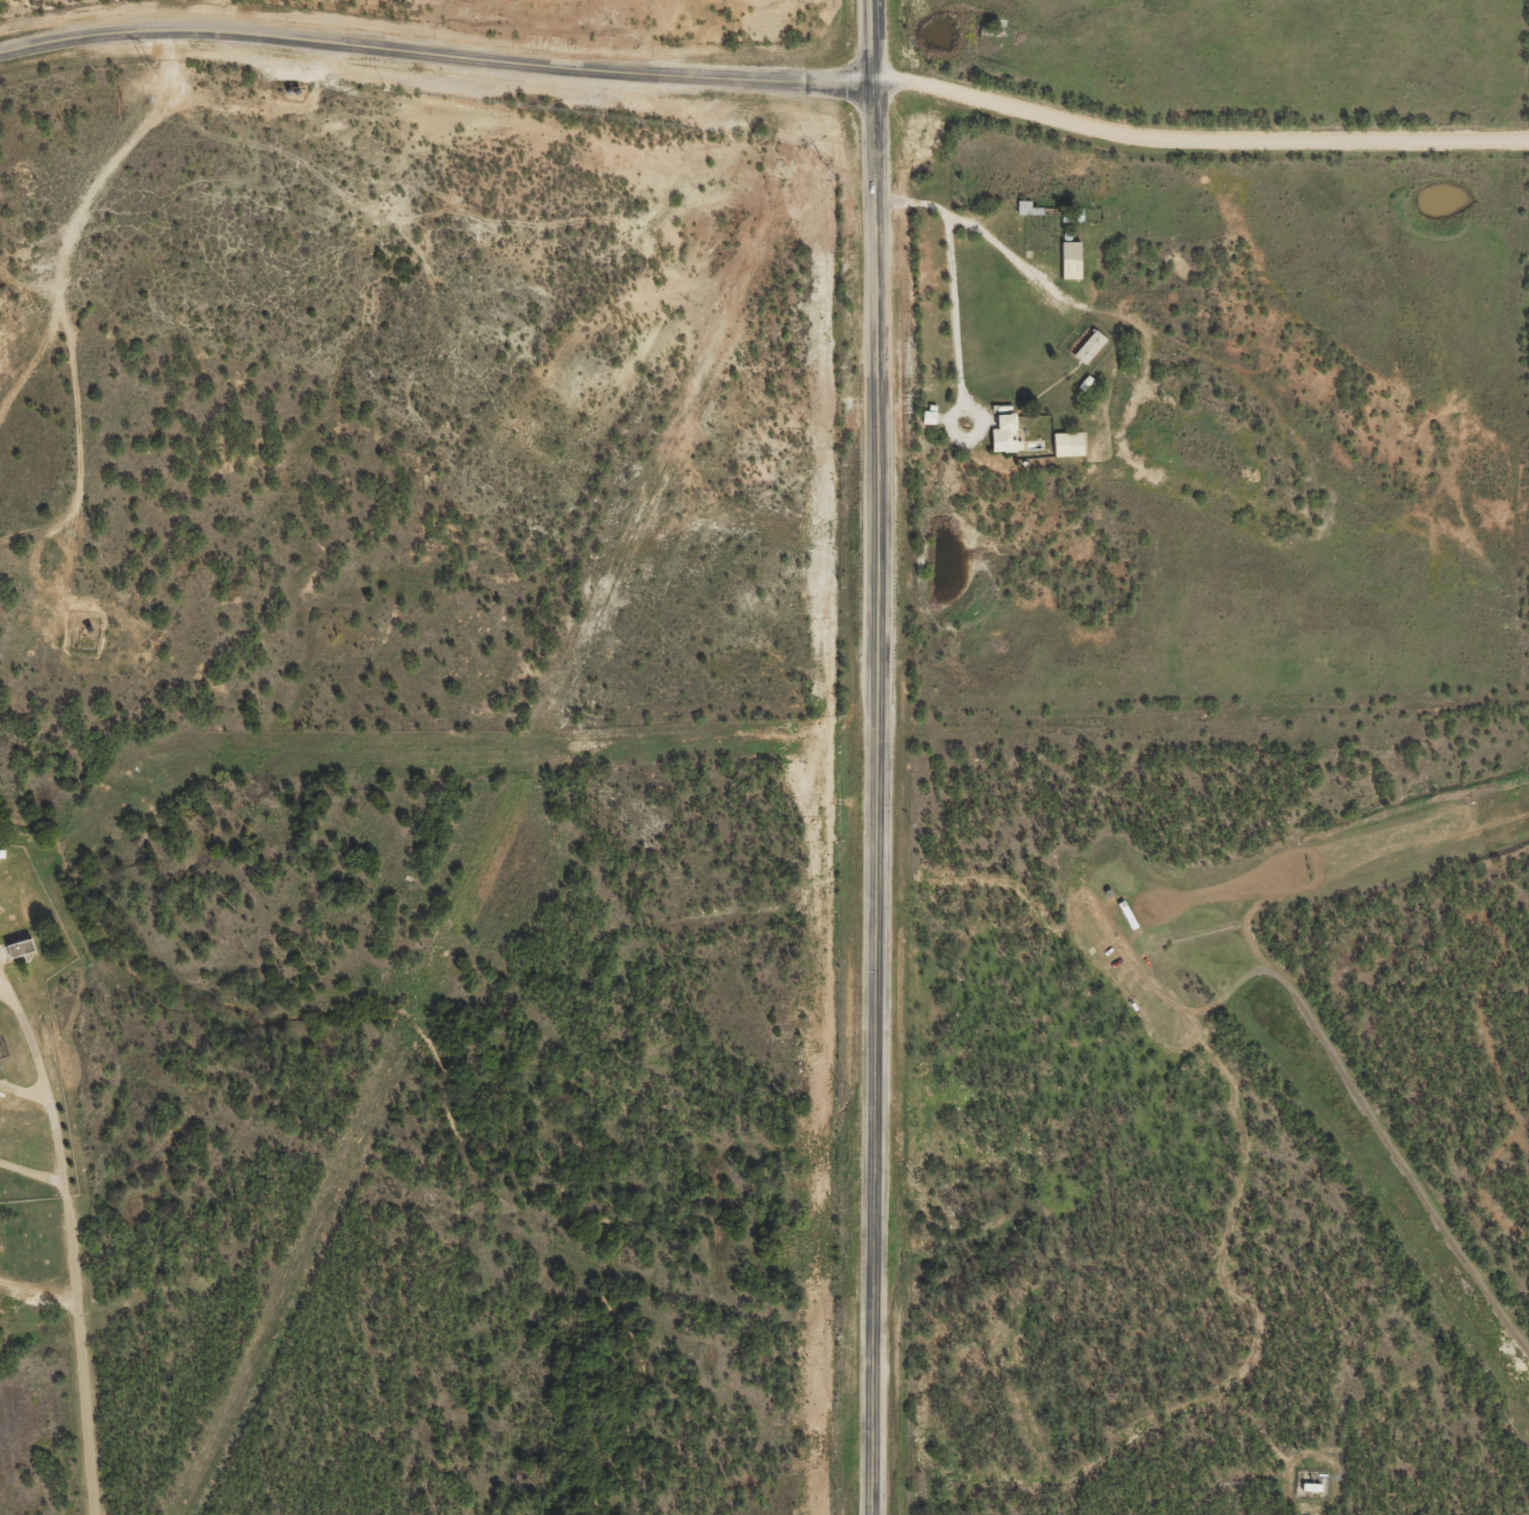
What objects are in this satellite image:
road: (434, 56)
power tower: (144, 62)
road: (1194, 156)
building: (1029, 218)
building: (1073, 269)
power tower: (38, 317)
building: (1091, 356)
building: (931, 426)
building: (1008, 444)
building: (1070, 453)
road: (876, 757)
building: (25, 959)
road: (4, 983)
road: (1348, 1082)
road: (26, 1090)
road: (33, 1173)
road: (72, 1248)
building: (1313, 1496)

